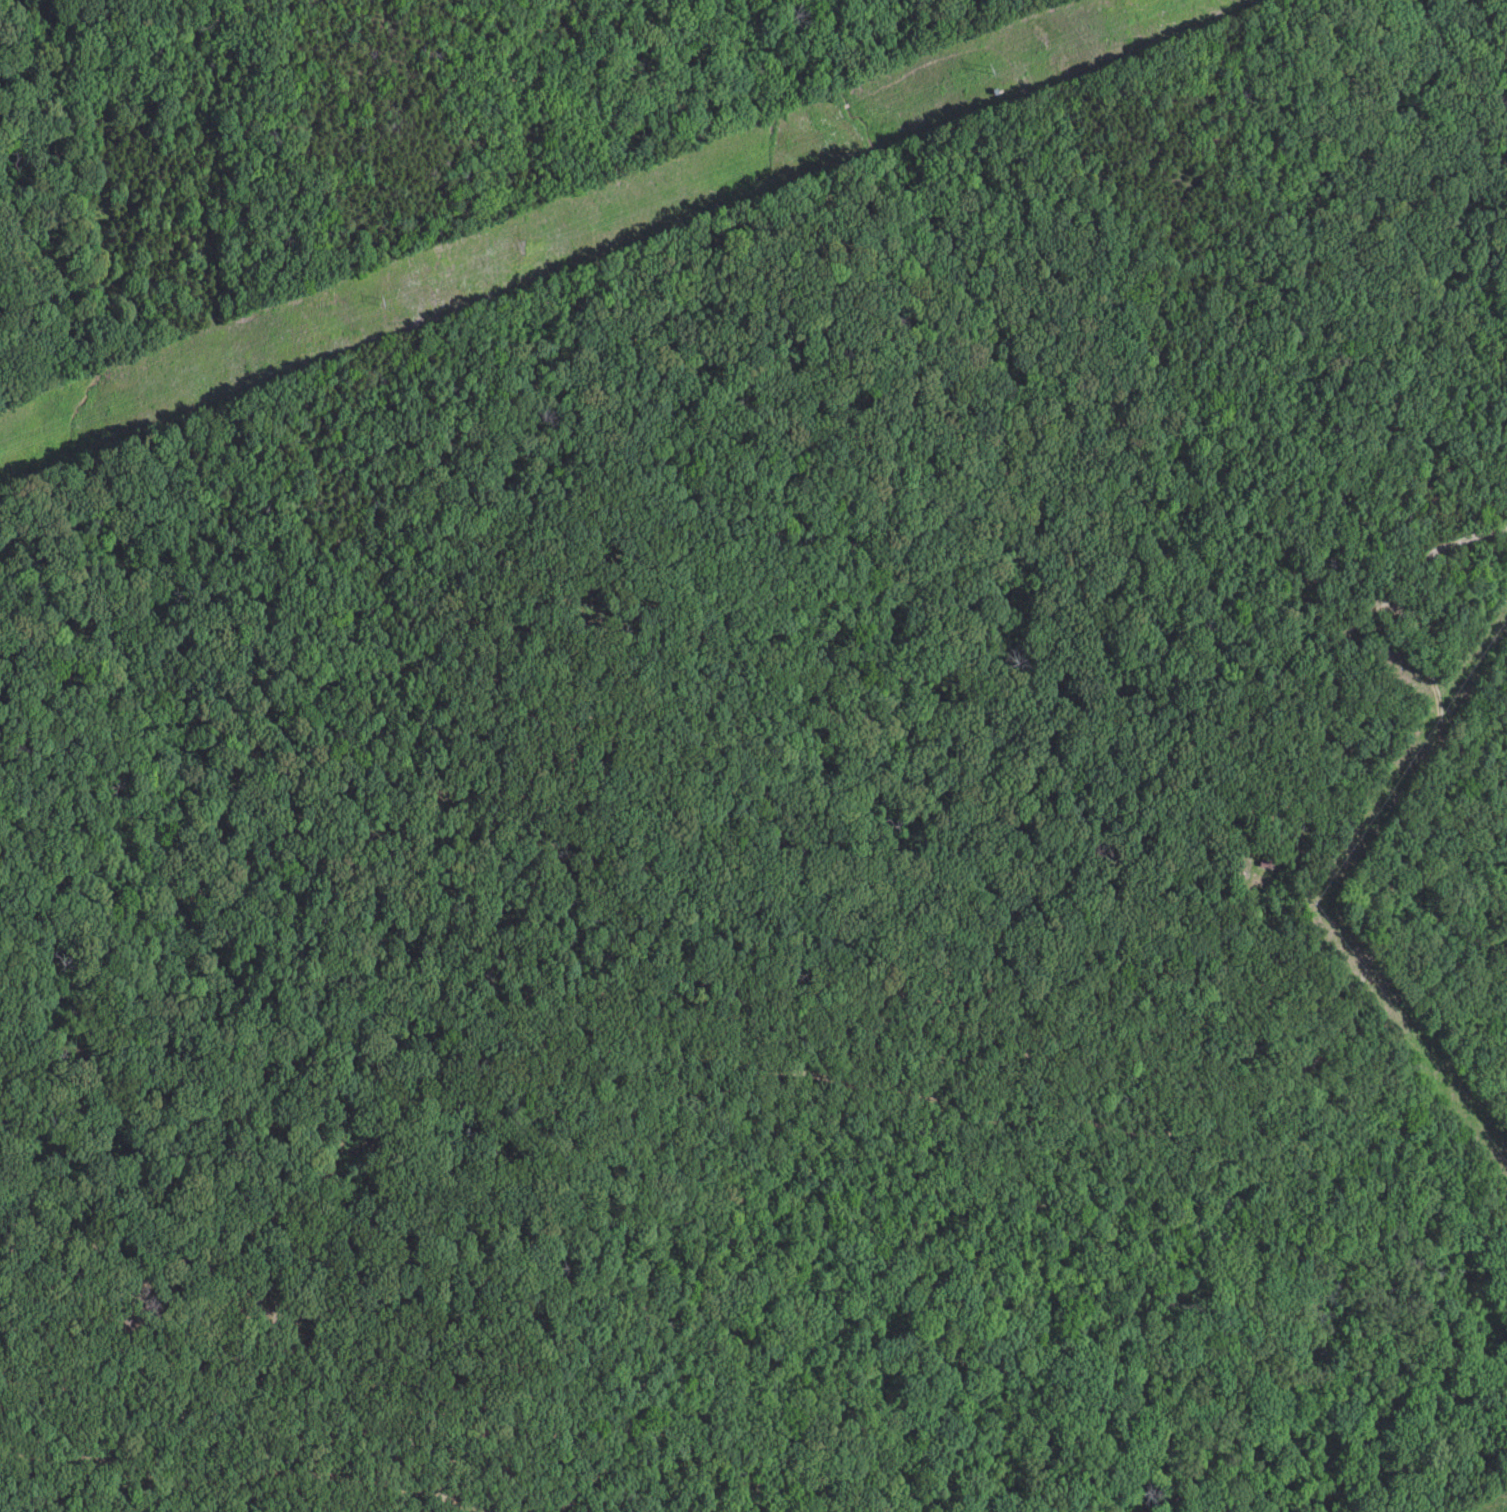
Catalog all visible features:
power tower: (975, 67)
power tower: (831, 121)
power tower: (364, 301)

